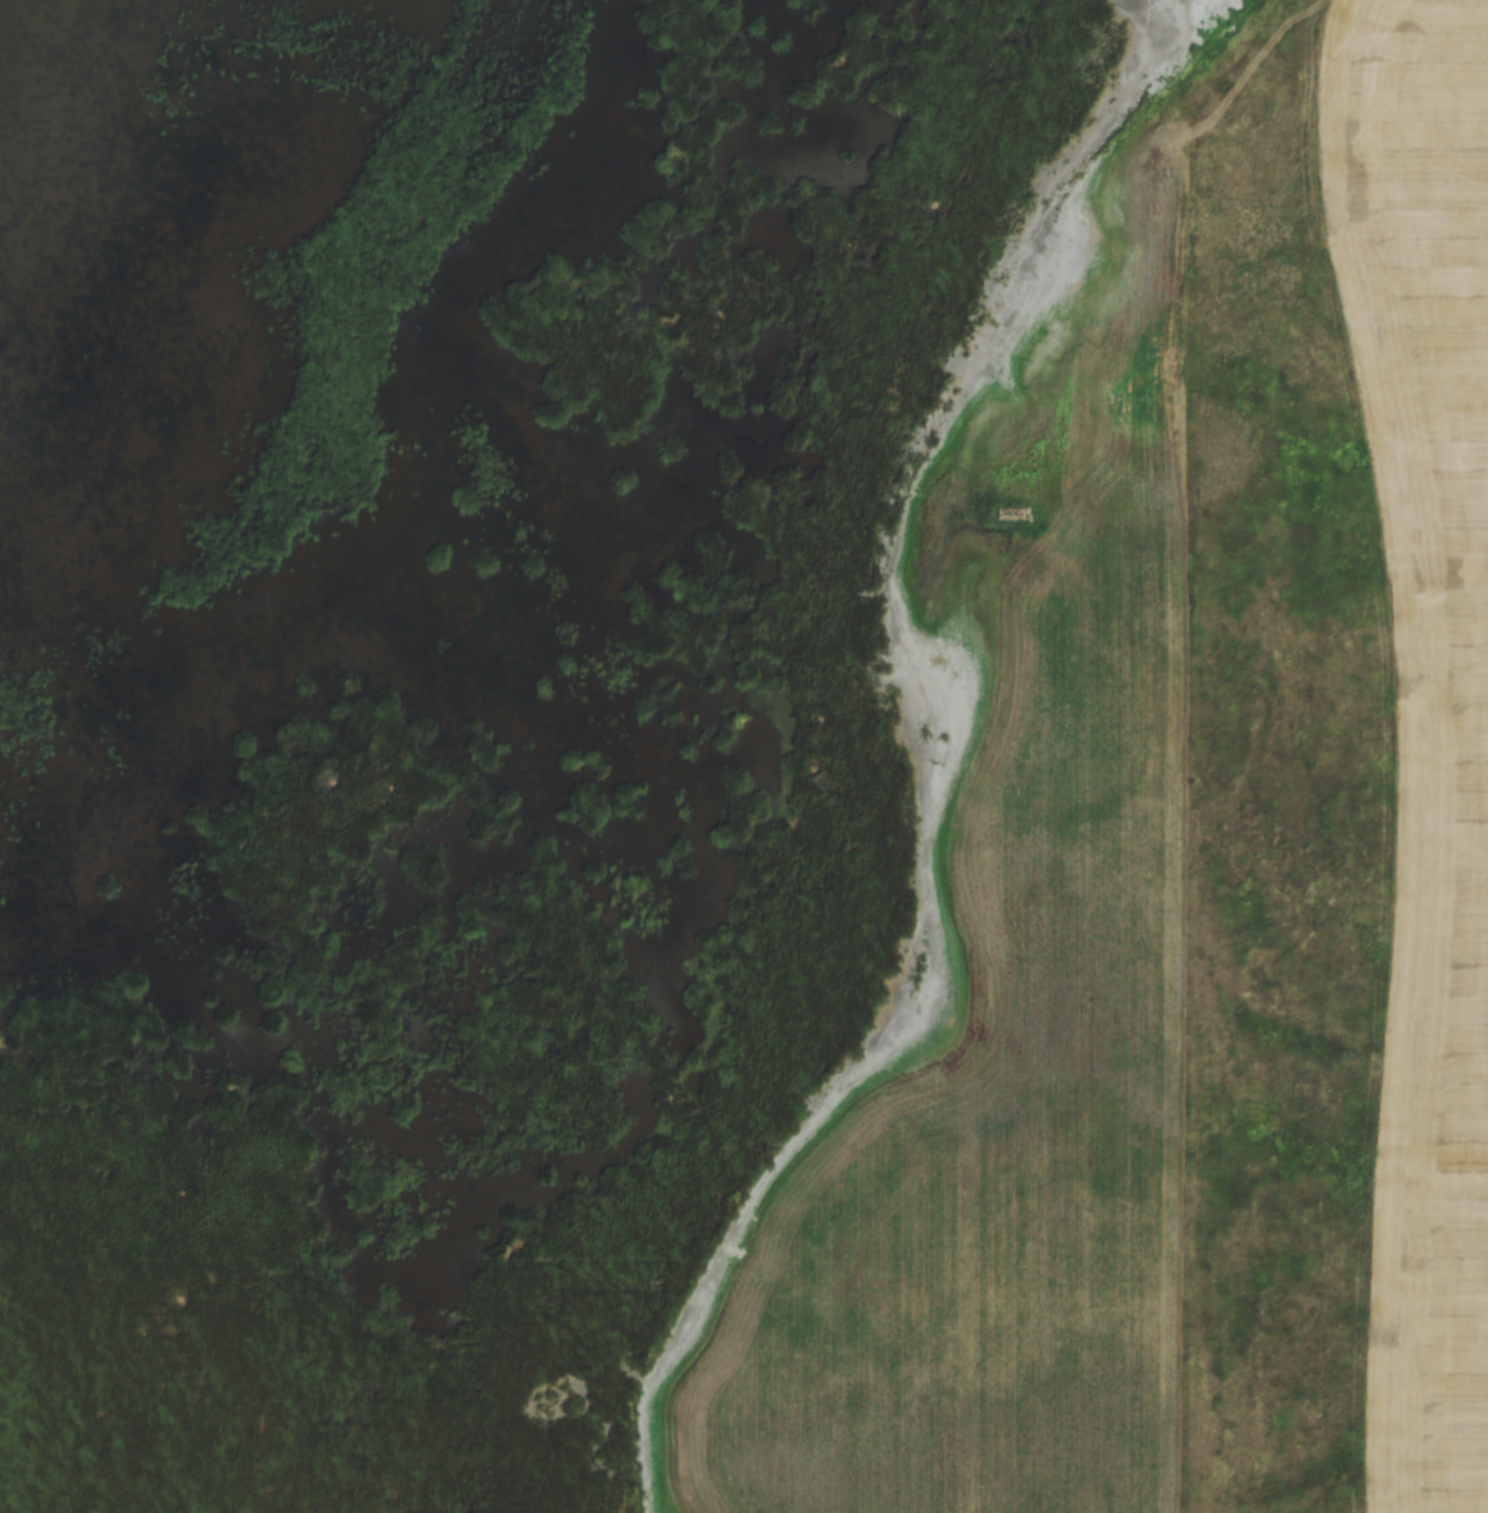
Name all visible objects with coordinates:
road: (1406, 752)

